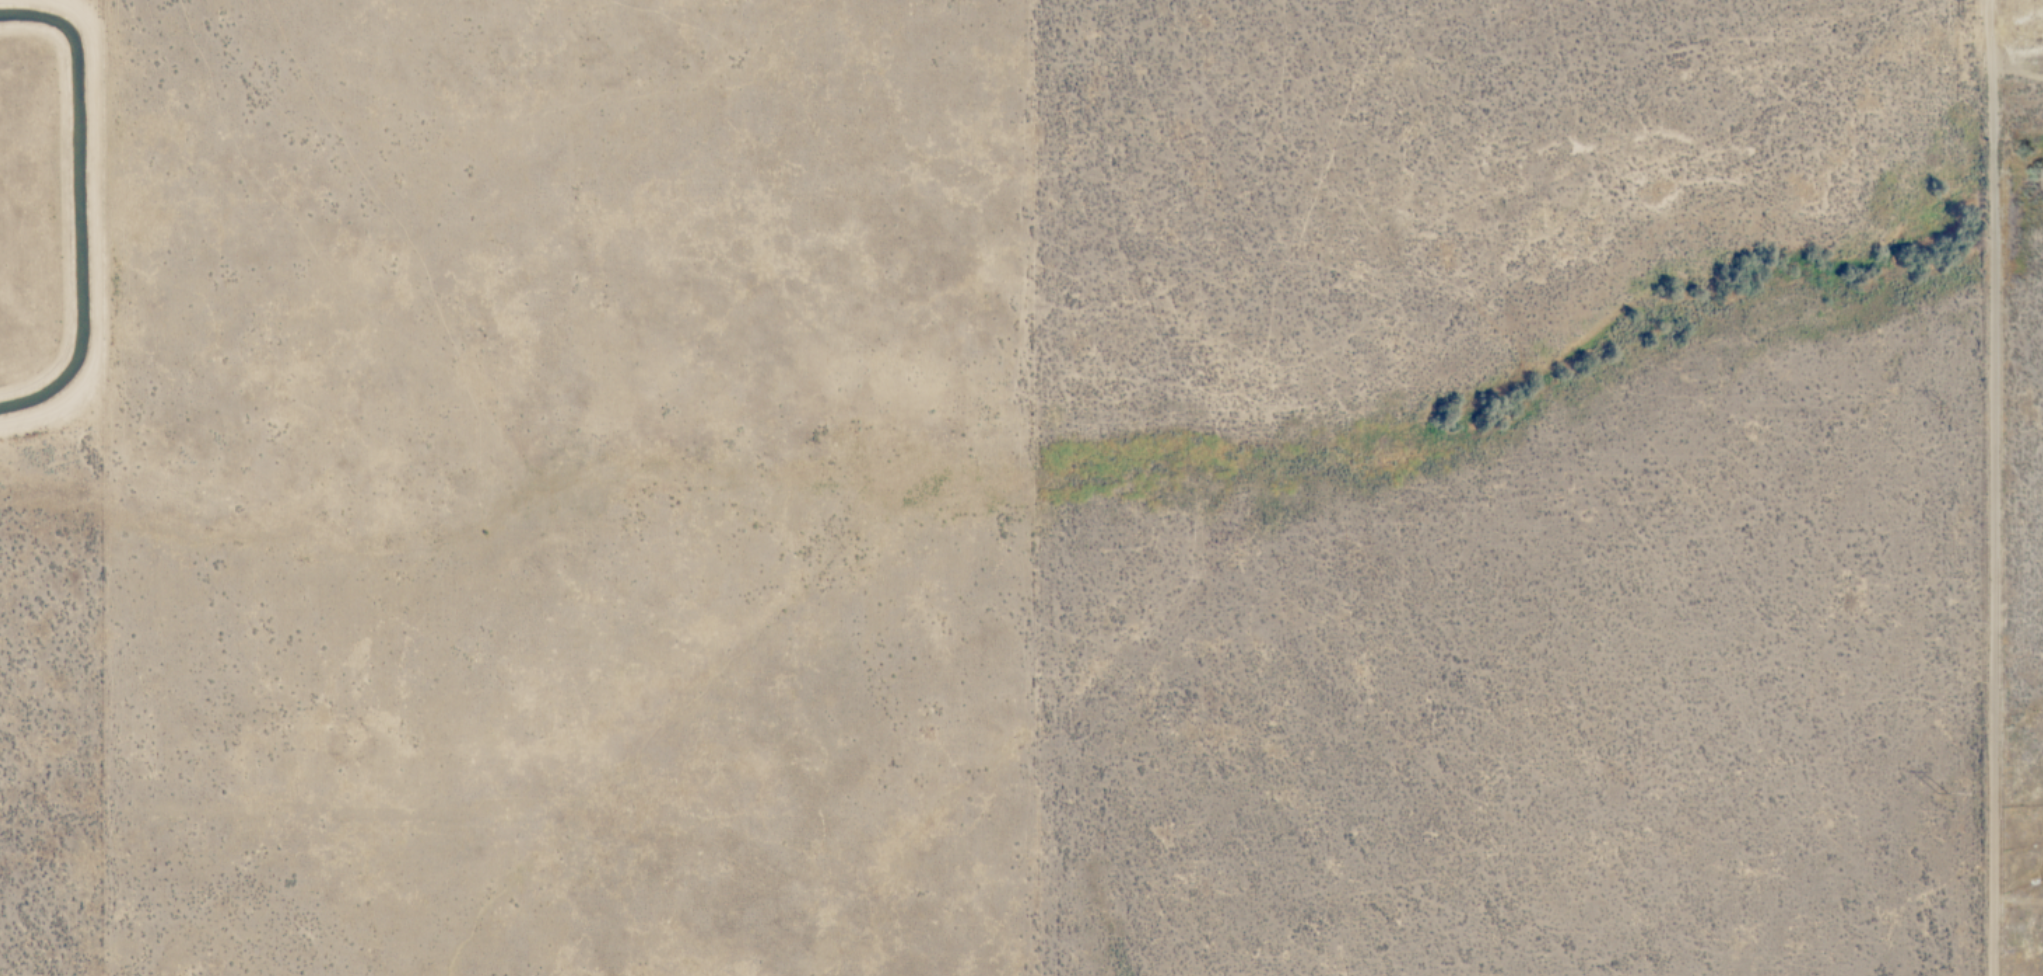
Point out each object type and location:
power tower: (1939, 404)
road: (1992, 487)
power tower: (1938, 796)

